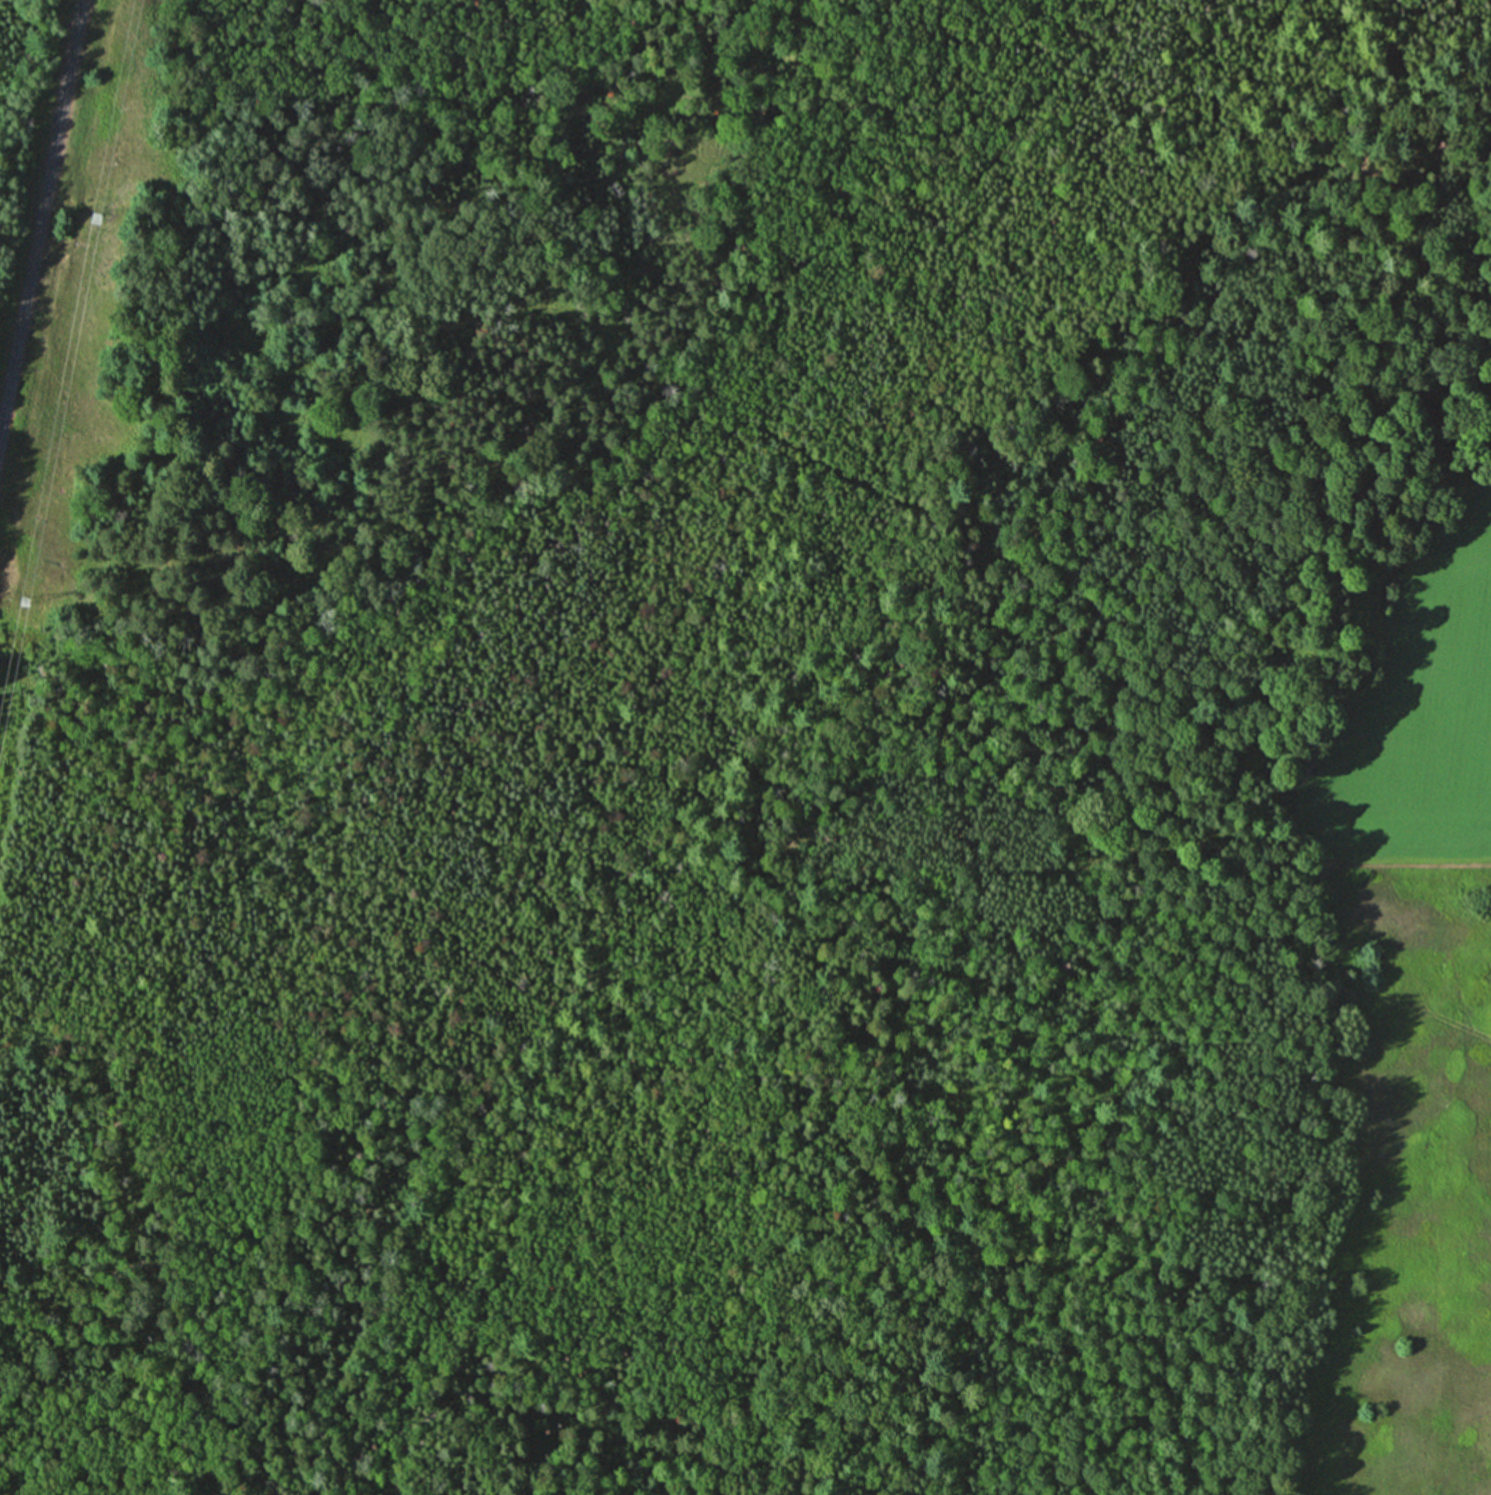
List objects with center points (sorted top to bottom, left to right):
power tower: (95, 216)
railway: (40, 218)
power tower: (24, 600)

